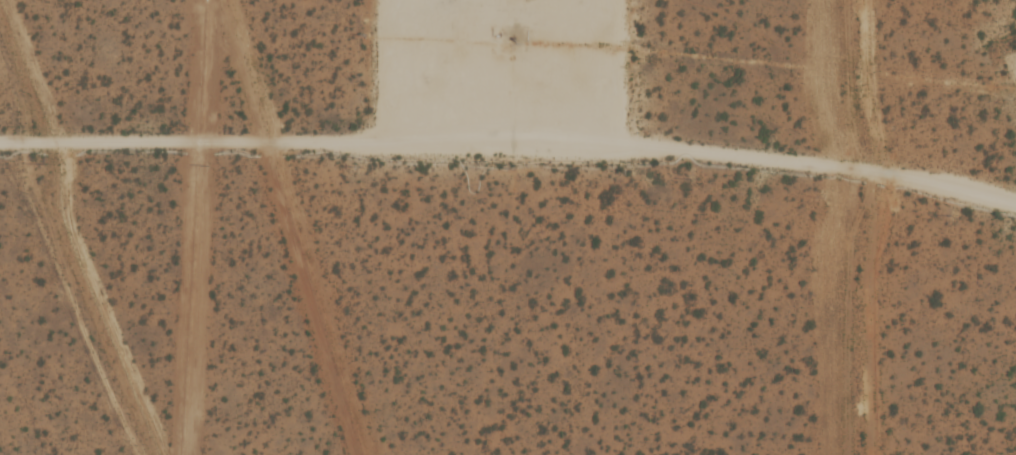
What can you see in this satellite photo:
road: (470, 66)
road: (512, 131)

